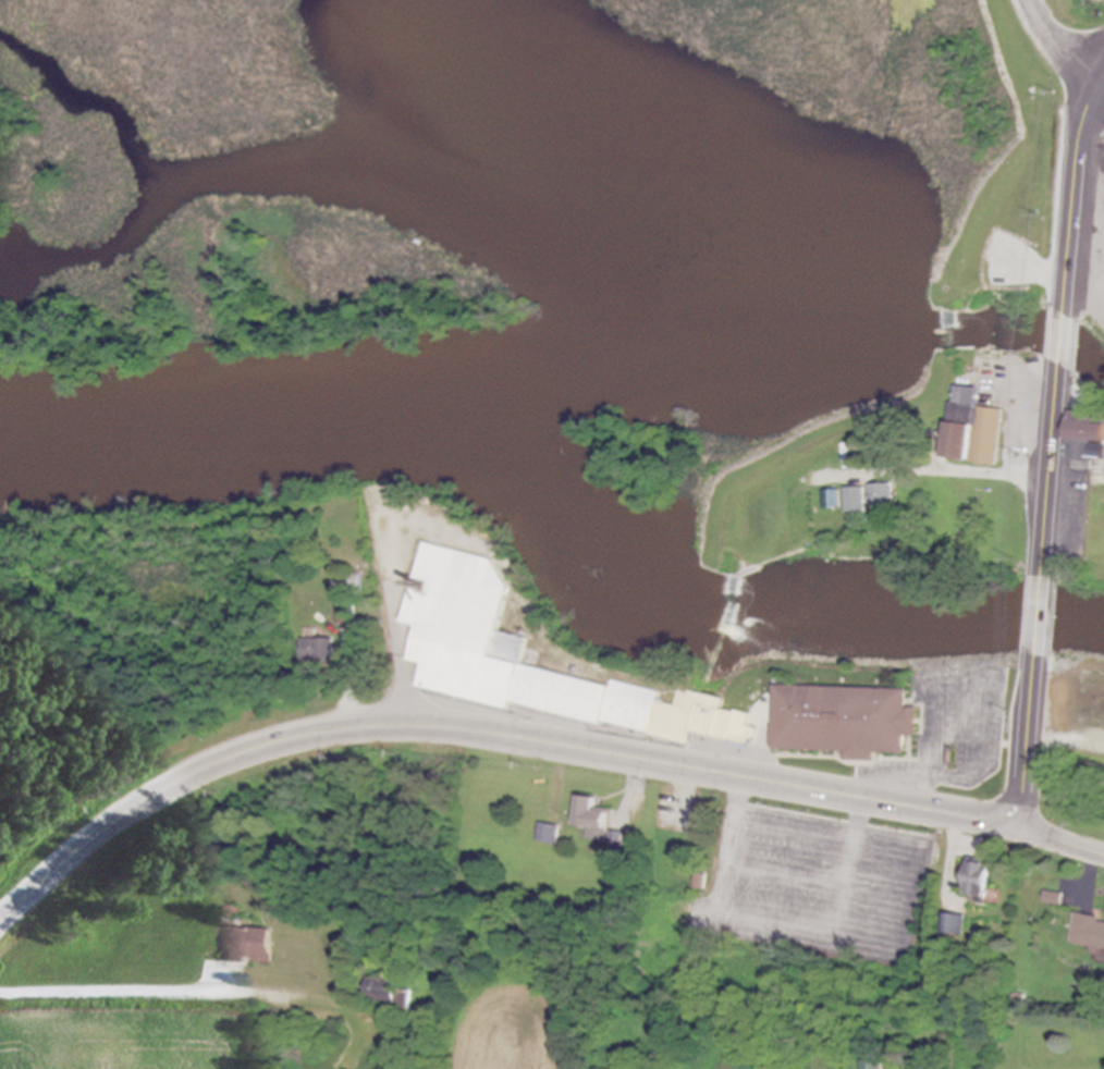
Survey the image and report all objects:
road: (1058, 44)
road: (1102, 77)
road: (1076, 181)
river: (753, 339)
road: (1063, 339)
building: (973, 430)
building: (1084, 440)
road: (1052, 467)
building: (881, 495)
building: (831, 499)
building: (854, 500)
river: (556, 512)
building: (346, 614)
road: (1040, 616)
building: (470, 649)
building: (319, 650)
road: (349, 685)
road: (939, 693)
building: (844, 721)
road: (484, 732)
road: (1028, 752)
building: (592, 819)
building: (548, 834)
road: (827, 837)
road: (1062, 838)
road: (954, 853)
road: (850, 867)
road: (1094, 870)
building: (979, 880)
road: (820, 882)
road: (744, 922)
building: (955, 925)
building: (1089, 933)
building: (249, 945)
road: (125, 991)
building: (384, 991)
building: (875, 1065)

